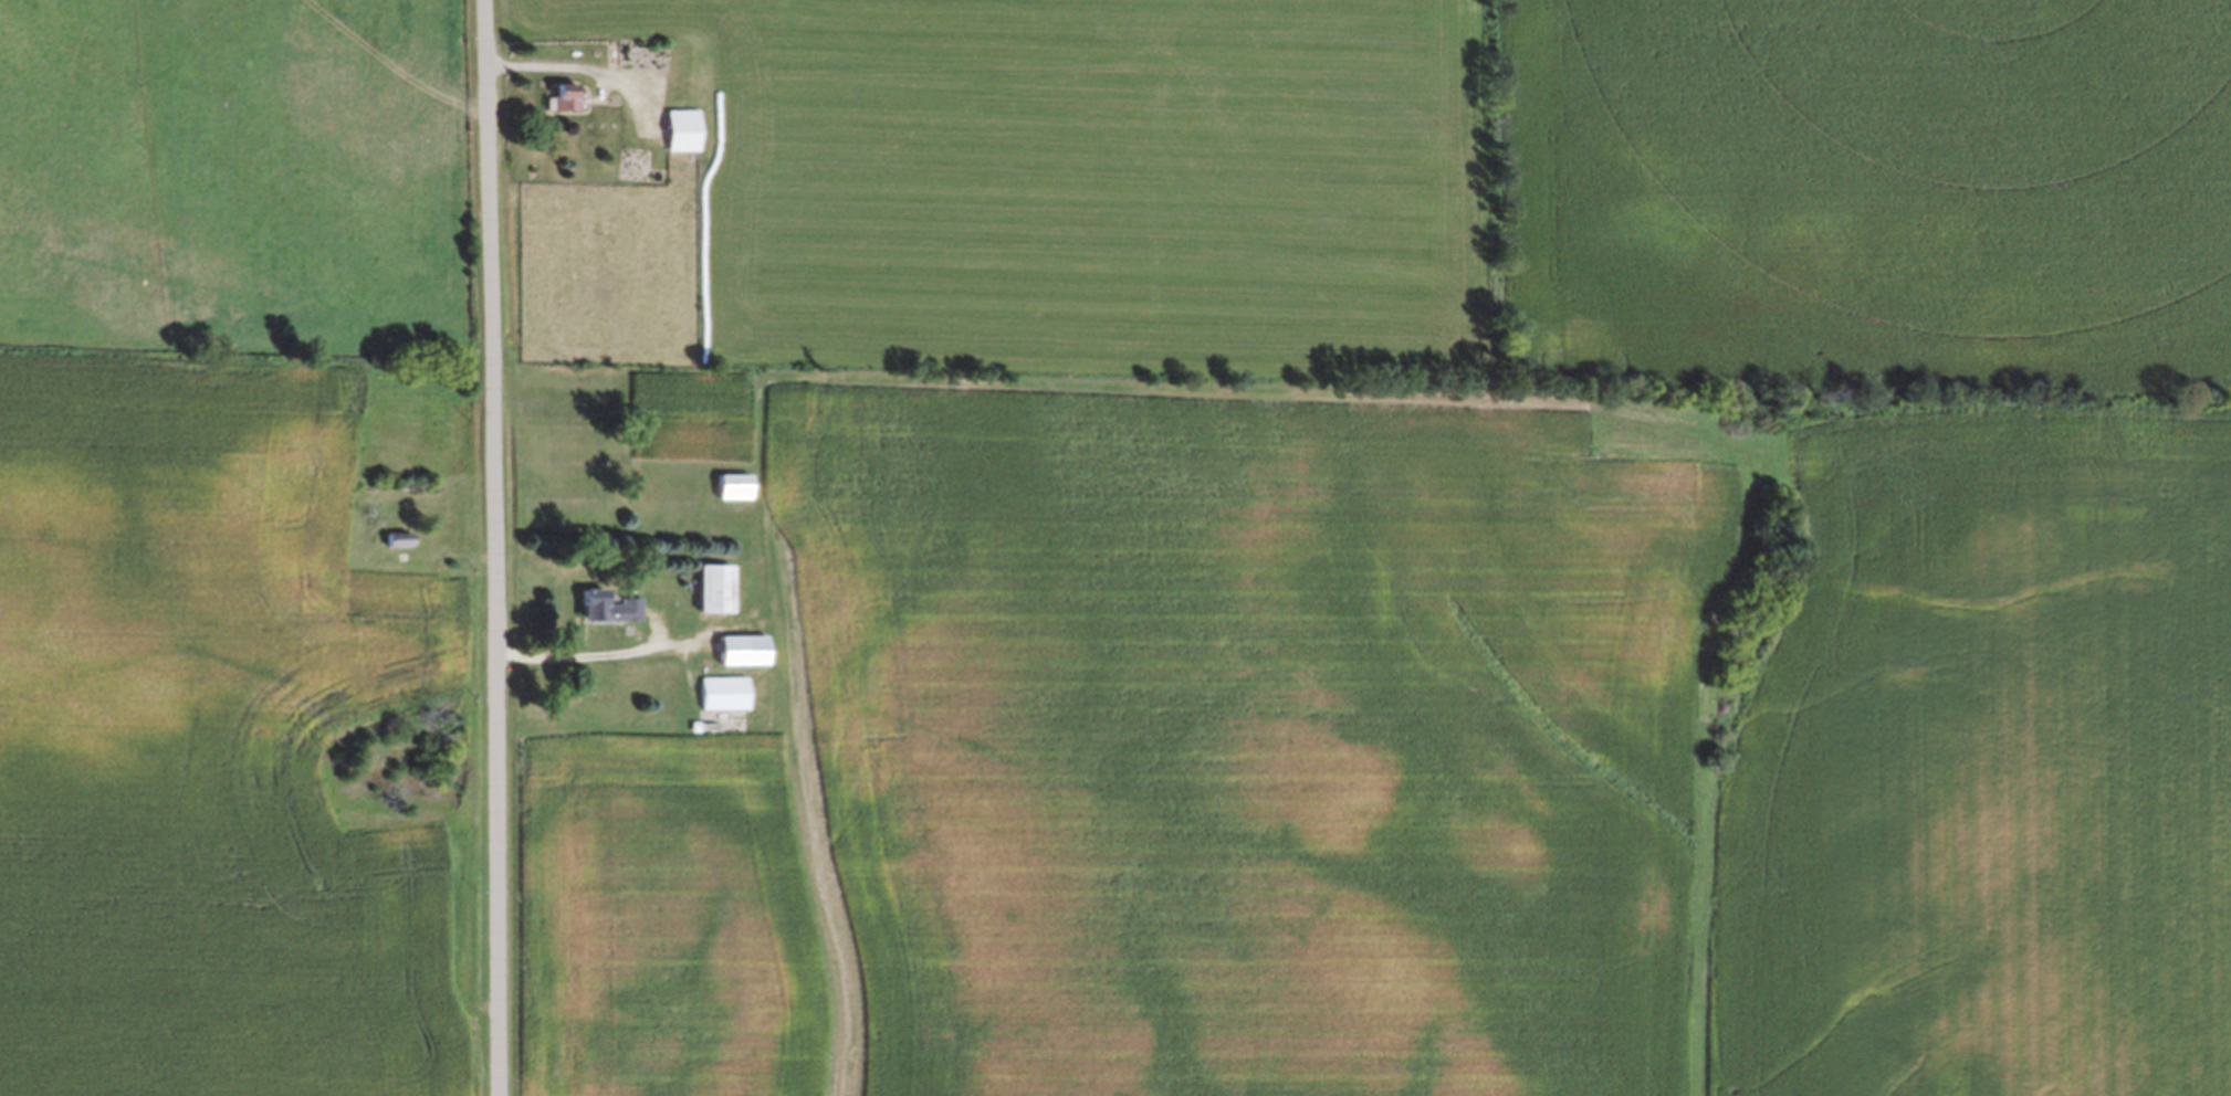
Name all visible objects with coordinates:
building: (563, 96)
building: (681, 129)
building: (730, 485)
building: (395, 537)
road: (480, 548)
building: (711, 587)
building: (605, 605)
building: (739, 649)
building: (722, 692)

